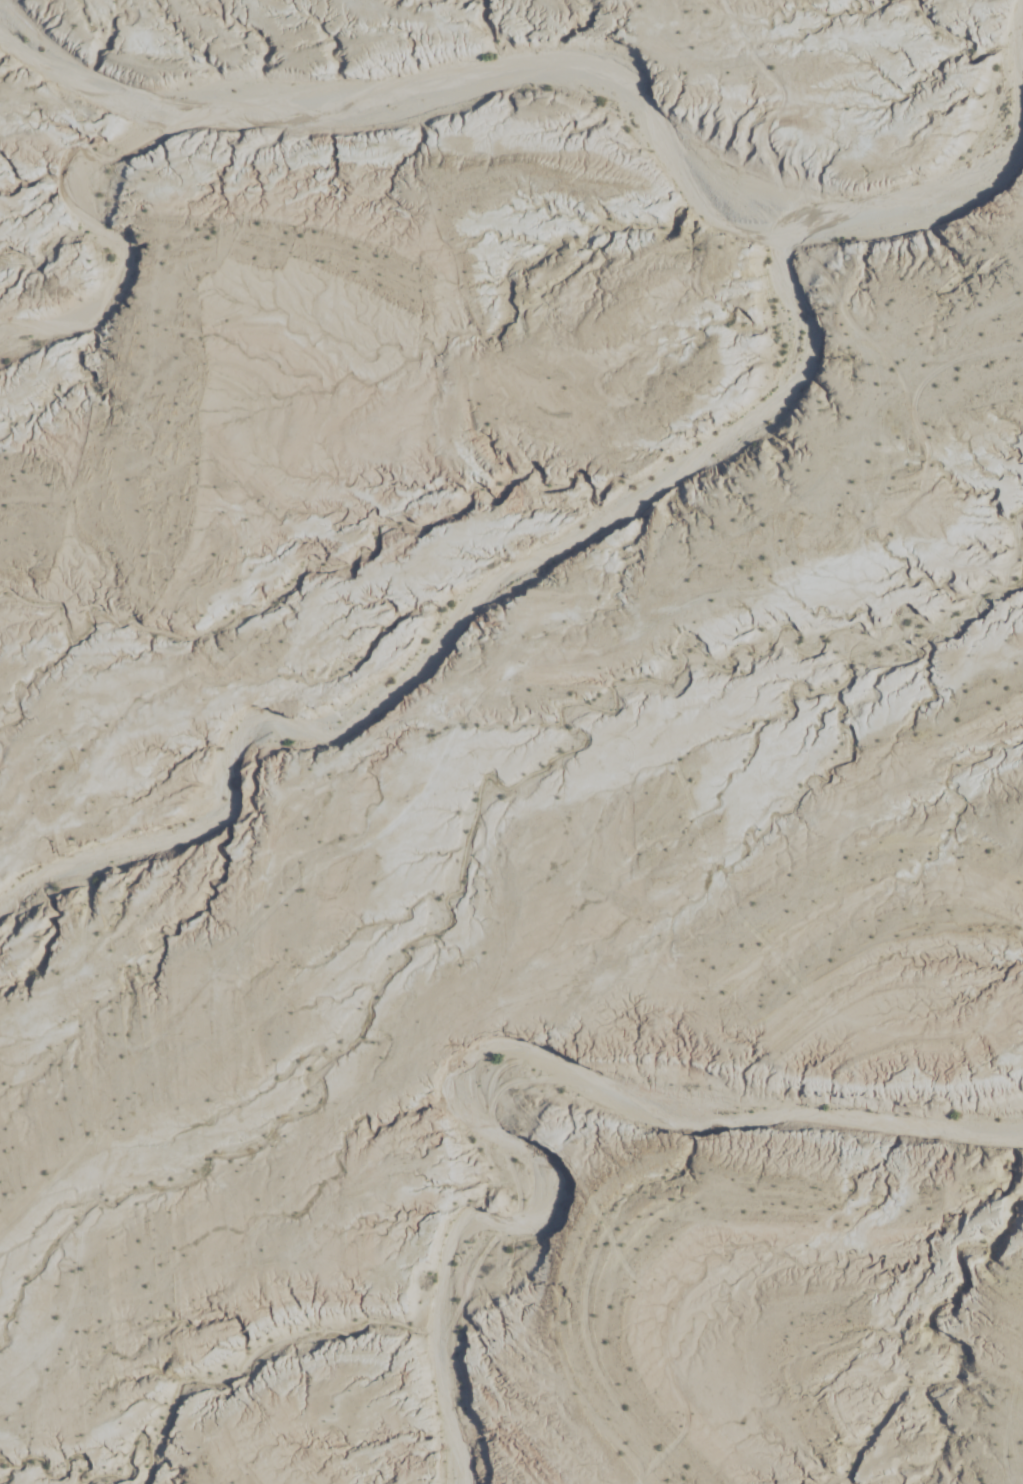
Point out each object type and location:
road: (416, 84)
road: (574, 537)

